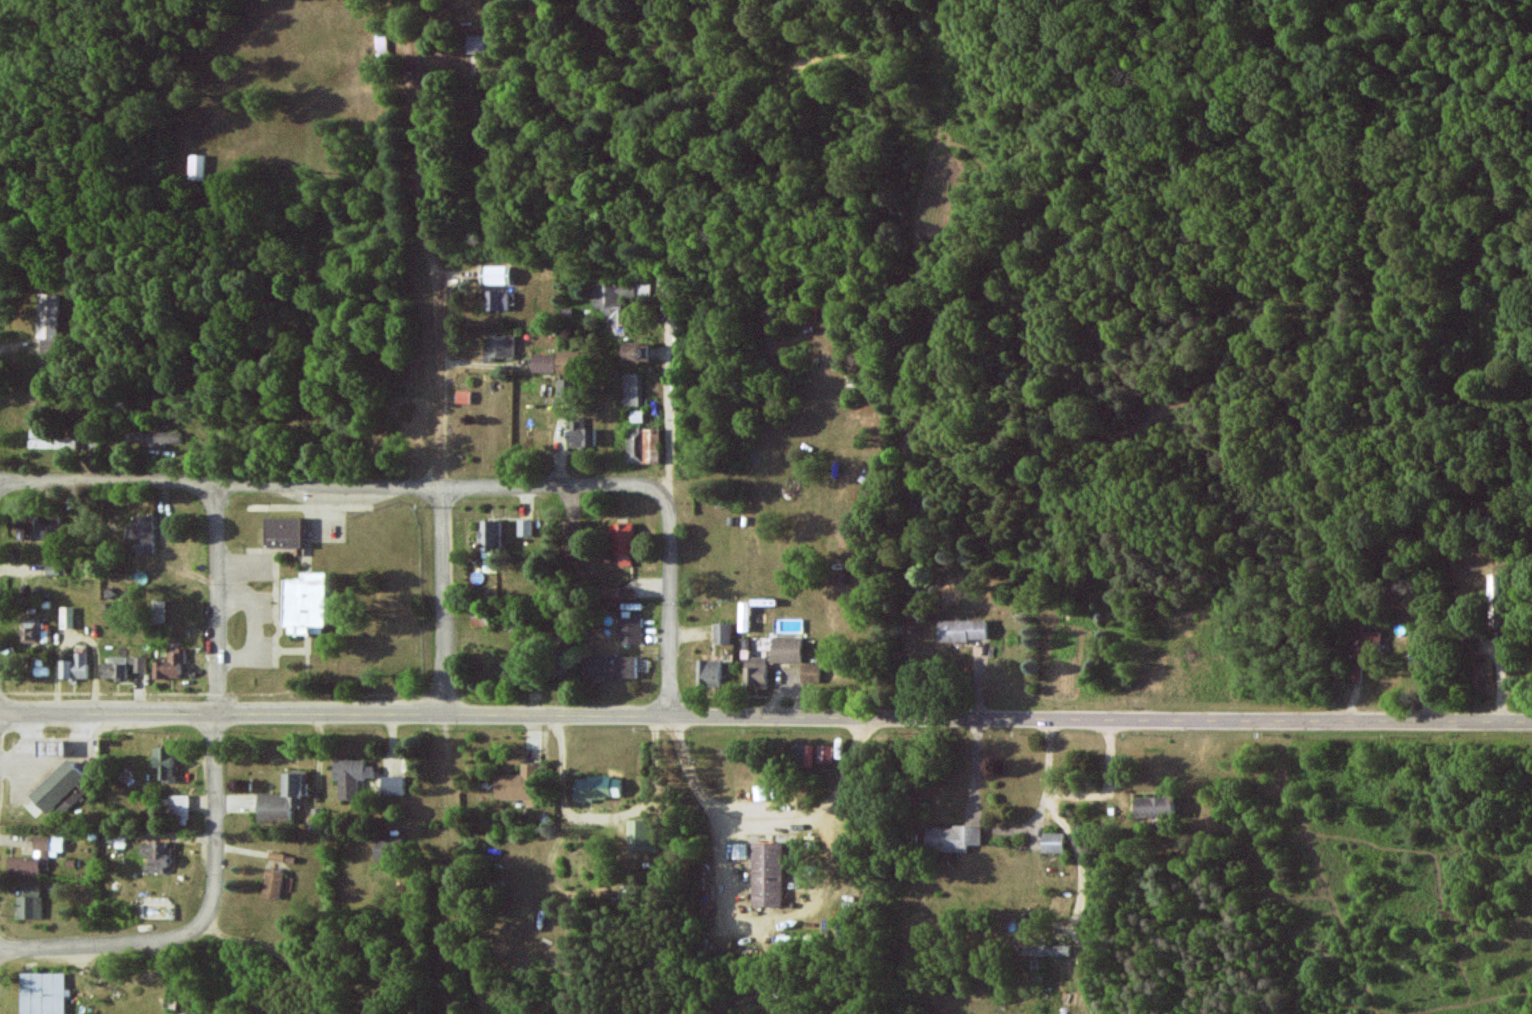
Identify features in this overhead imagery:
building: (381, 44)
building: (477, 44)
building: (198, 167)
building: (495, 274)
building: (498, 300)
building: (620, 301)
building: (50, 316)
building: (500, 347)
building: (636, 352)
building: (567, 361)
building: (543, 362)
road: (669, 384)
building: (634, 389)
building: (463, 396)
building: (637, 416)
building: (580, 433)
building: (154, 436)
building: (53, 441)
building: (643, 445)
road: (334, 486)
road: (441, 492)
building: (37, 527)
building: (525, 527)
building: (283, 531)
building: (142, 533)
building: (490, 535)
building: (572, 538)
building: (623, 543)
road: (585, 569)
building: (54, 570)
building: (844, 581)
building: (616, 592)
road: (217, 598)
road: (670, 599)
building: (1495, 600)
building: (305, 603)
building: (157, 610)
building: (744, 616)
building: (67, 617)
building: (481, 617)
building: (789, 625)
building: (29, 630)
building: (630, 630)
building: (962, 630)
building: (722, 633)
building: (1363, 652)
building: (770, 660)
building: (561, 662)
building: (137, 663)
building: (168, 664)
building: (74, 666)
building: (609, 666)
building: (114, 667)
building: (708, 672)
building: (809, 672)
road: (765, 714)
building: (52, 749)
building: (802, 754)
building: (823, 754)
building: (162, 762)
building: (351, 777)
building: (519, 784)
building: (393, 785)
road: (1112, 785)
building: (64, 787)
building: (598, 788)
building: (282, 799)
building: (178, 806)
building: (1153, 806)
road: (218, 811)
road: (1010, 830)
building: (641, 834)
building: (952, 838)
building: (1053, 842)
building: (384, 848)
building: (740, 850)
road: (1082, 855)
building: (35, 856)
building: (154, 856)
building: (767, 874)
building: (272, 883)
building: (29, 903)
road: (110, 946)
building: (1045, 949)
building: (42, 993)

